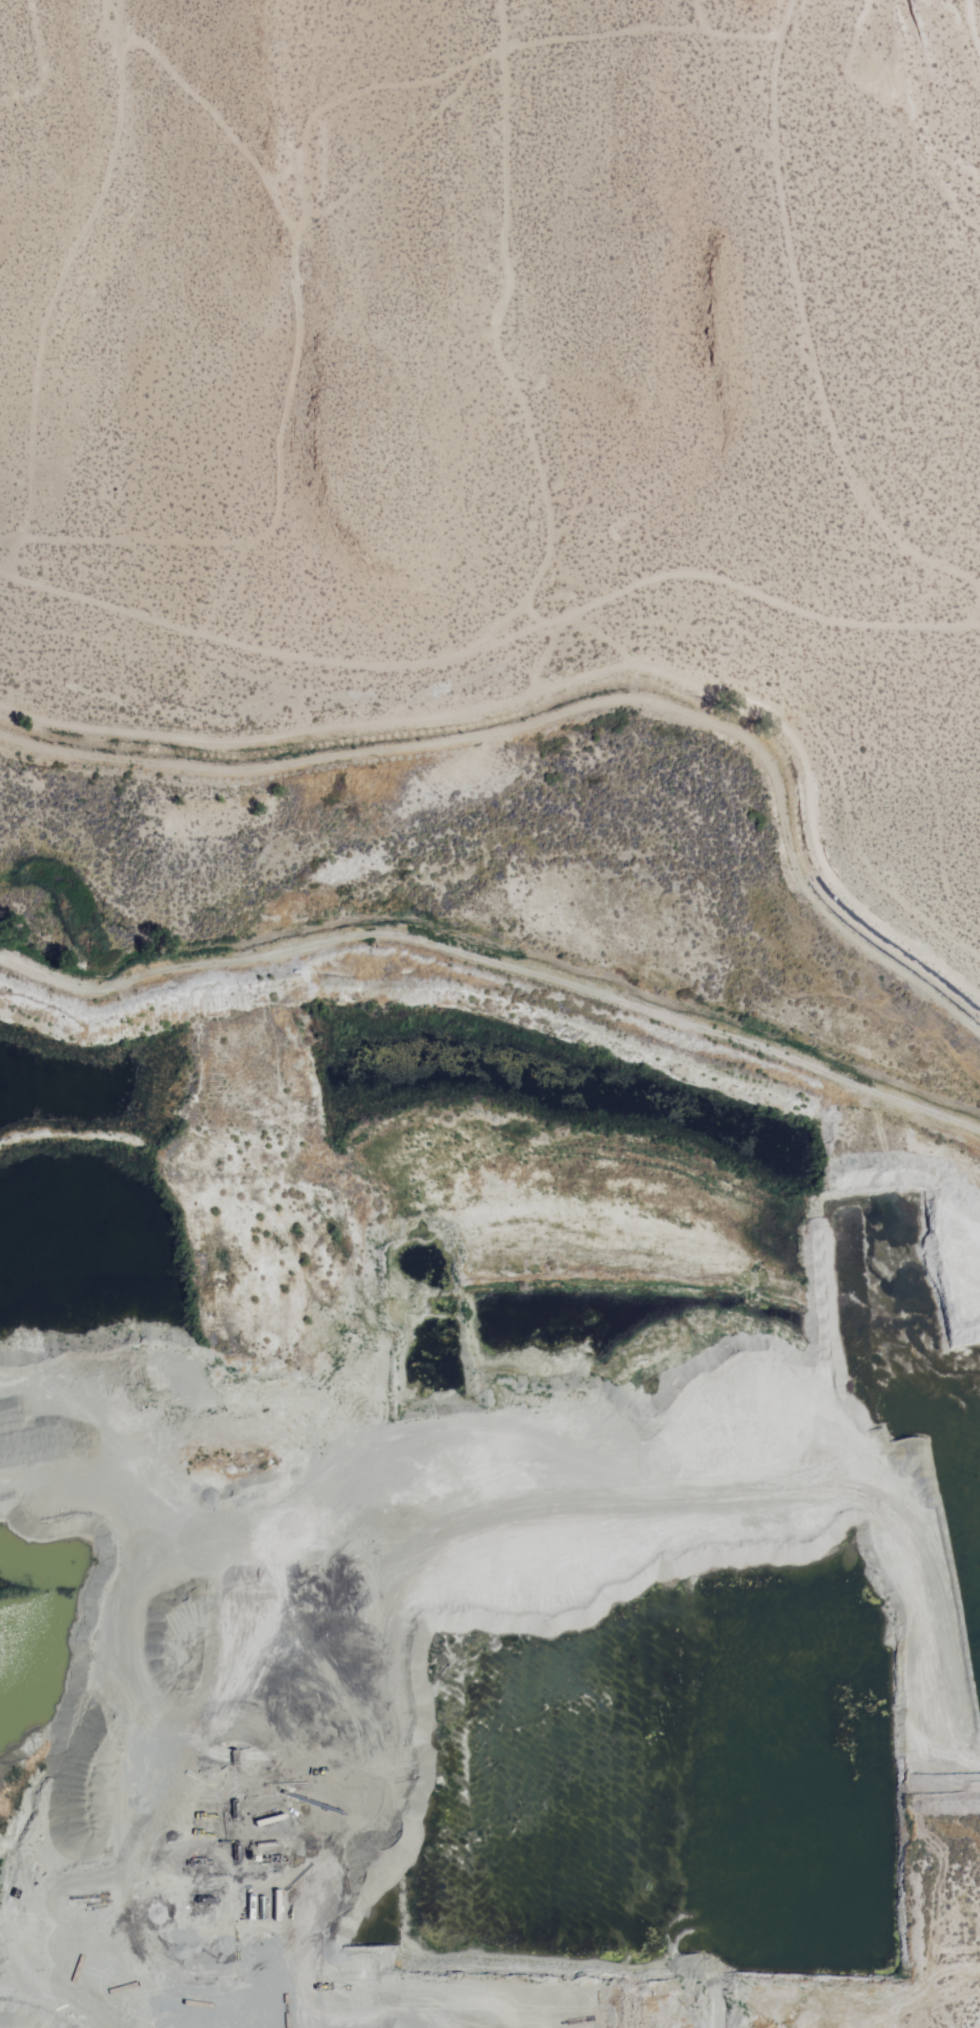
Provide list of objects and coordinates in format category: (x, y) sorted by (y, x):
road: (961, 185)
road: (57, 280)
road: (822, 320)
road: (297, 384)
road: (491, 633)
road: (570, 677)
road: (569, 713)
road: (496, 960)

